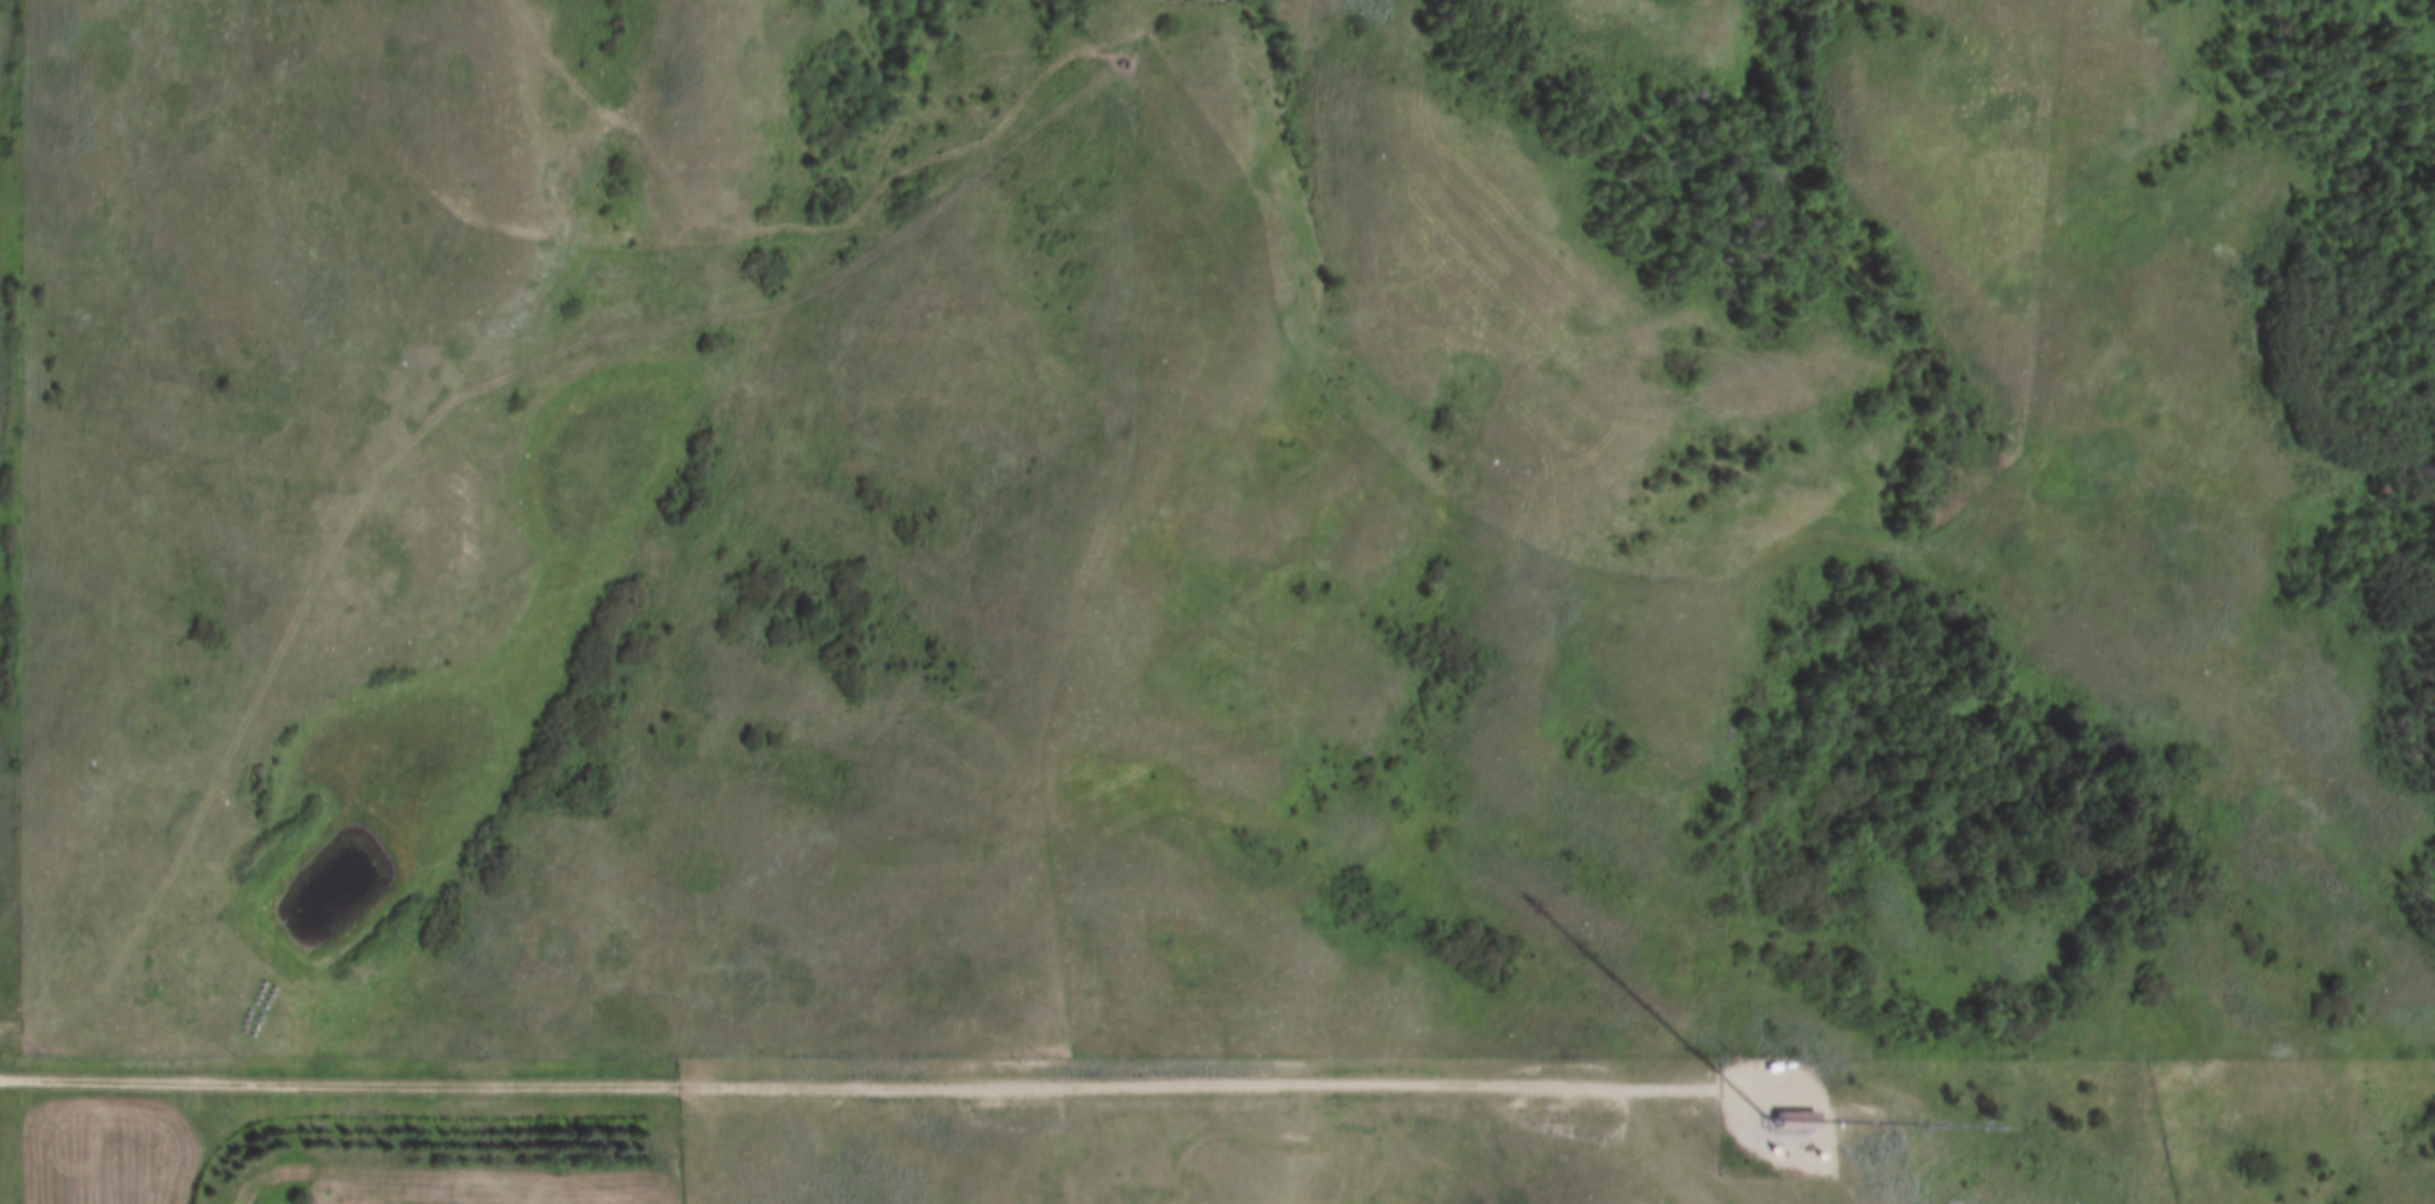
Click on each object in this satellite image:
building: (1772, 1068)
road: (862, 1092)
building: (1792, 1121)

